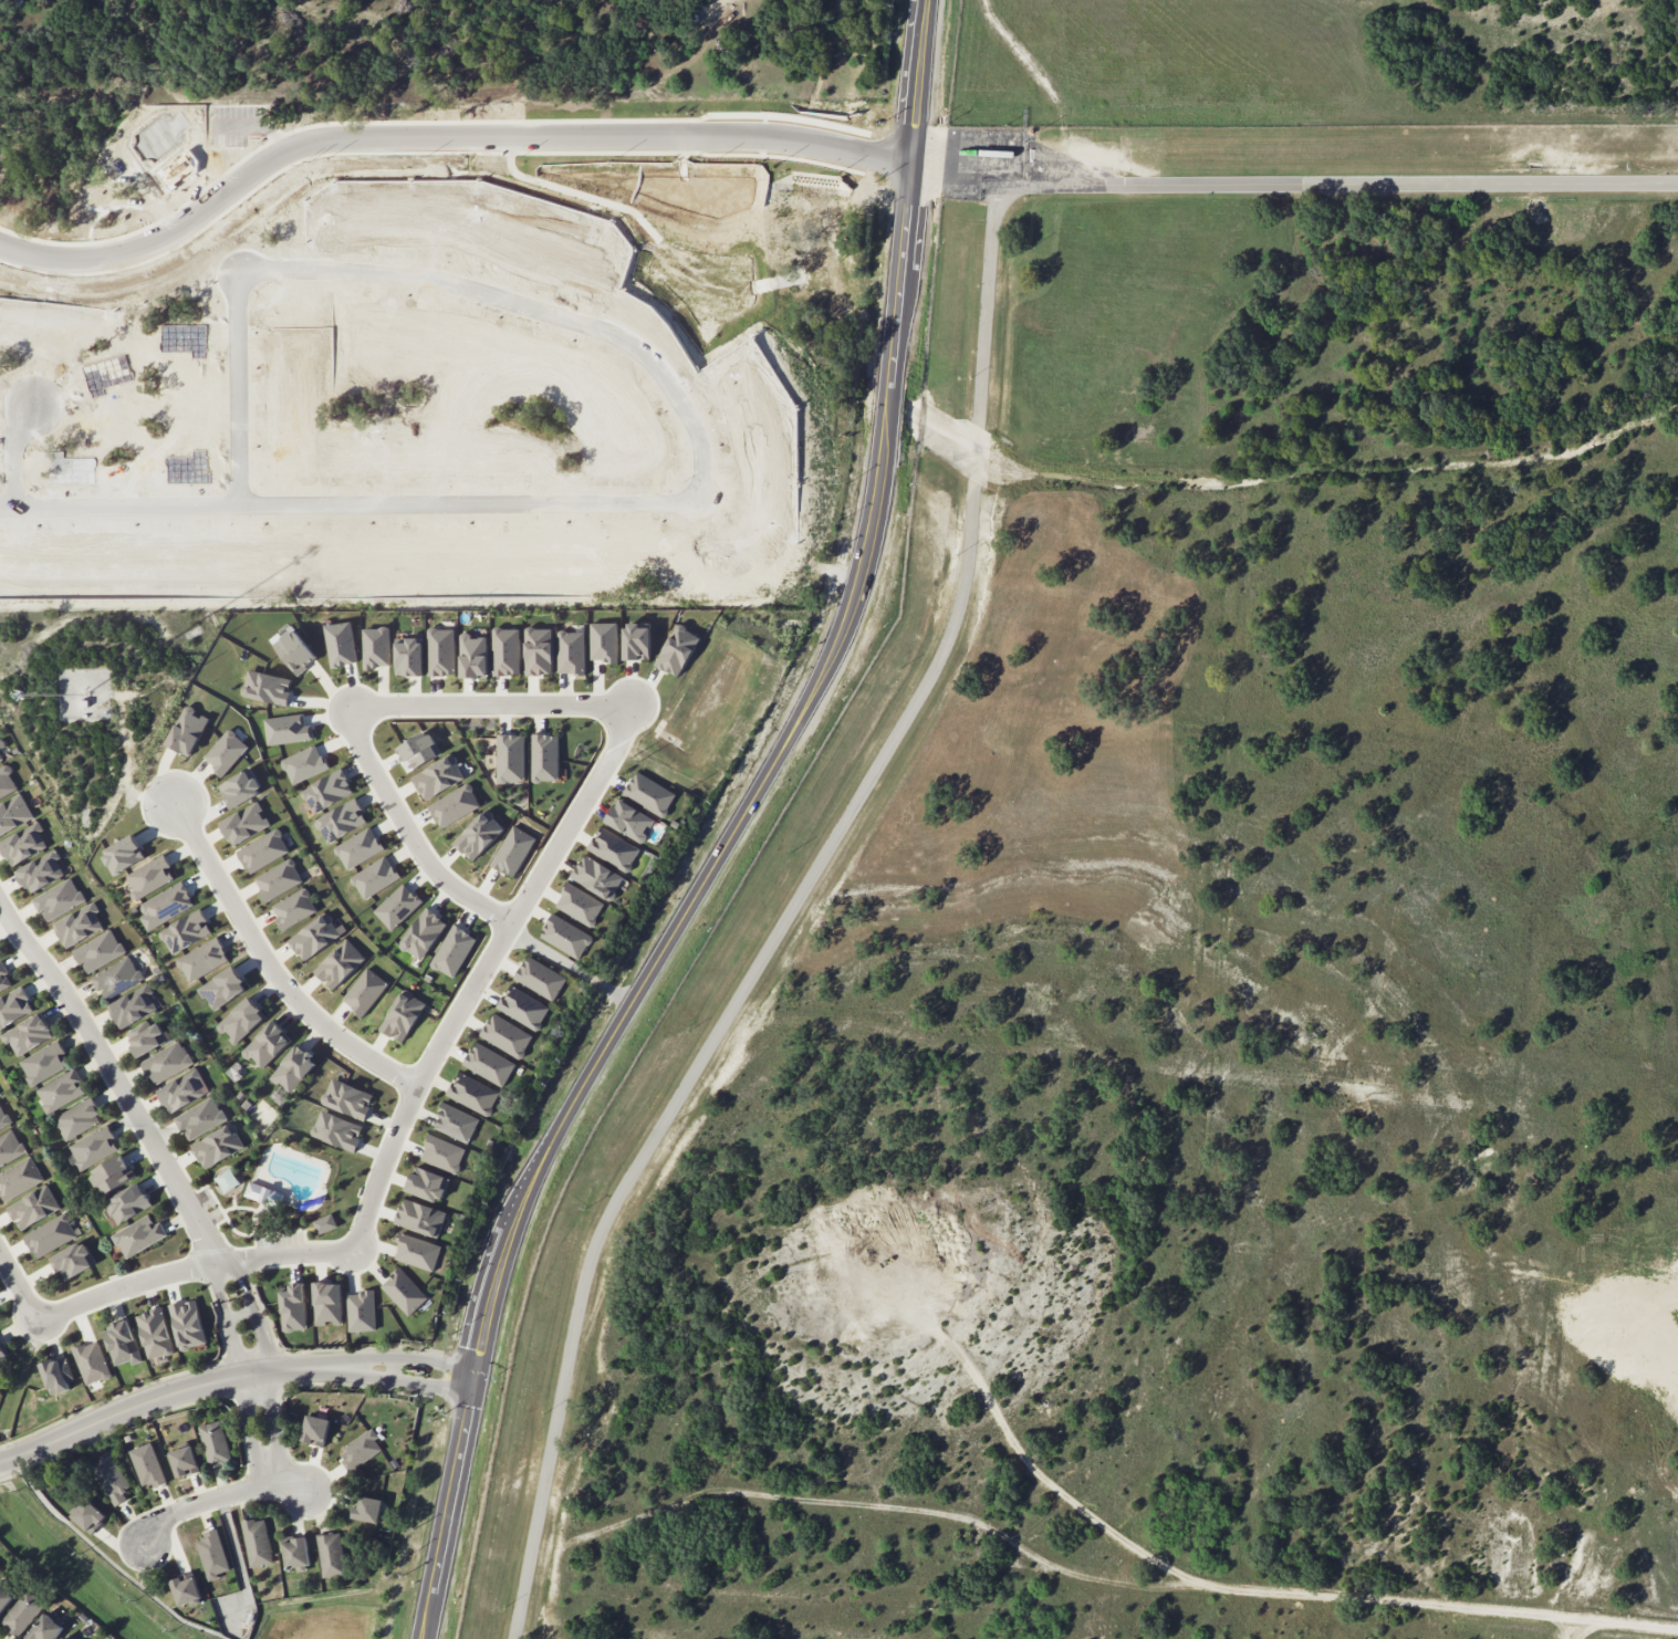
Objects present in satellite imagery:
road: (716, 3)
road: (371, 142)
road: (828, 152)
road: (896, 165)
road: (1189, 186)
road: (1574, 186)
road: (988, 306)
road: (535, 312)
road: (244, 387)
road: (978, 455)
road: (23, 459)
road: (345, 507)
building: (603, 641)
building: (636, 641)
building: (340, 644)
building: (376, 647)
building: (293, 649)
building: (538, 650)
building: (677, 650)
building: (440, 651)
building: (506, 651)
building: (571, 651)
building: (473, 656)
building: (409, 657)
building: (267, 687)
road: (491, 704)
building: (286, 729)
building: (187, 731)
building: (417, 750)
building: (225, 752)
building: (510, 758)
building: (544, 758)
building: (0, 760)
building: (303, 764)
building: (438, 776)
building: (7, 782)
building: (240, 789)
building: (326, 791)
building: (649, 793)
building: (454, 805)
building: (13, 814)
building: (341, 821)
building: (629, 821)
building: (244, 823)
road: (411, 835)
building: (478, 835)
road: (731, 835)
building: (23, 844)
building: (358, 848)
building: (613, 848)
building: (262, 850)
building: (512, 850)
building: (123, 854)
building: (41, 871)
building: (149, 877)
building: (375, 877)
building: (596, 877)
building: (278, 879)
building: (58, 899)
building: (168, 904)
building: (579, 904)
building: (397, 906)
building: (293, 908)
building: (79, 925)
building: (186, 931)
building: (424, 933)
building: (564, 936)
building: (314, 937)
building: (452, 950)
building: (98, 951)
building: (202, 959)
road: (574, 960)
building: (340, 963)
road: (272, 969)
building: (3, 978)
building: (117, 978)
building: (540, 978)
road: (480, 979)
building: (222, 988)
building: (364, 991)
building: (14, 1006)
building: (134, 1006)
building: (522, 1008)
building: (402, 1015)
building: (241, 1020)
building: (29, 1034)
building: (506, 1035)
building: (145, 1037)
building: (267, 1044)
road: (709, 1045)
building: (167, 1062)
building: (45, 1063)
building: (489, 1064)
road: (108, 1067)
building: (293, 1068)
building: (61, 1090)
building: (184, 1090)
building: (472, 1094)
building: (279, 1098)
building: (347, 1098)
building: (3, 1118)
building: (200, 1118)
building: (79, 1119)
building: (456, 1123)
building: (337, 1130)
building: (218, 1146)
building: (94, 1147)
building: (10, 1148)
building: (441, 1152)
building: (113, 1175)
building: (19, 1179)
building: (426, 1183)
building: (264, 1194)
building: (128, 1203)
building: (33, 1207)
building: (420, 1218)
building: (51, 1235)
building: (139, 1235)
building: (417, 1252)
building: (74, 1261)
road: (194, 1270)
road: (239, 1271)
road: (213, 1280)
road: (19, 1287)
building: (404, 1291)
building: (327, 1303)
building: (293, 1307)
building: (361, 1311)
road: (241, 1314)
building: (188, 1324)
building: (155, 1333)
building: (122, 1343)
building: (1, 1353)
road: (406, 1359)
building: (92, 1361)
road: (393, 1369)
building: (58, 1376)
road: (404, 1381)
traffic signals: (475, 1381)
road: (273, 1396)
road: (161, 1397)
road: (246, 1401)
building: (315, 1430)
building: (215, 1443)
building: (359, 1449)
building: (184, 1461)
building: (147, 1465)
building: (111, 1478)
road: (1044, 1479)
road: (220, 1497)
building: (367, 1508)
building: (88, 1516)
building: (257, 1542)
building: (296, 1553)
building: (212, 1554)
building: (331, 1554)
building: (0, 1566)
road: (1095, 1578)
building: (186, 1589)
building: (4, 1598)
building: (22, 1612)
building: (45, 1629)
road: (1570, 1631)
building: (62, 1638)

